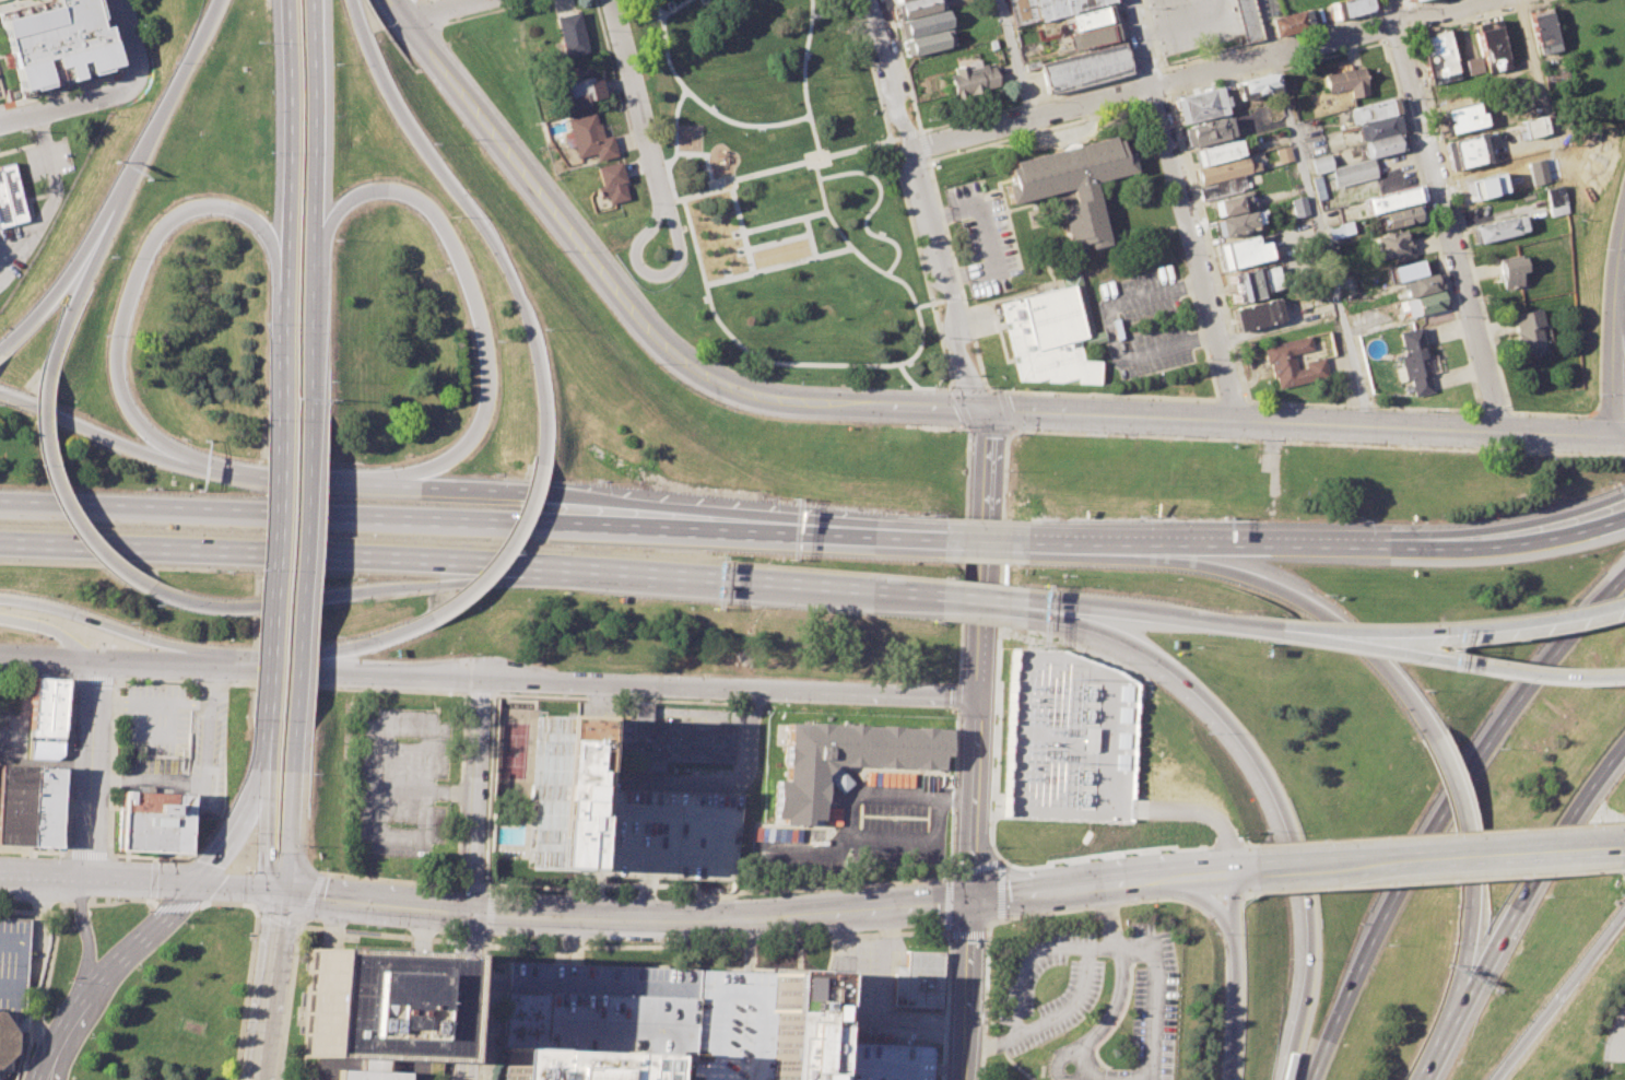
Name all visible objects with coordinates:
building: (893, 0)
building: (1409, 0)
road: (9, 2)
road: (1404, 3)
building: (1062, 7)
building: (1351, 7)
building: (914, 8)
road: (1376, 8)
road: (438, 10)
building: (1022, 12)
road: (1473, 16)
building: (1088, 17)
road: (1408, 19)
building: (1247, 20)
building: (1286, 22)
building: (922, 23)
parking lot: (1191, 23)
road: (1187, 24)
road: (1264, 26)
road: (1381, 26)
building: (1542, 30)
building: (568, 34)
building: (1091, 36)
road: (1152, 36)
road: (1397, 37)
road: (130, 38)
road: (1123, 39)
building: (55, 42)
street lamp: (256, 42)
building: (926, 42)
building: (1491, 44)
building: (1437, 57)
road: (1013, 59)
street lamp: (333, 62)
building: (1474, 64)
road: (868, 66)
road: (1173, 66)
road: (1535, 66)
building: (1082, 67)
road: (900, 68)
road: (1274, 69)
road: (612, 73)
road: (1193, 74)
road: (129, 75)
building: (970, 77)
road: (97, 80)
building: (1556, 80)
building: (1346, 81)
road: (1164, 82)
building: (1255, 86)
building: (575, 89)
road: (1137, 90)
parking lot: (0, 93)
road: (633, 94)
road: (1152, 99)
road: (166, 101)
building: (1199, 105)
road: (70, 106)
road: (706, 109)
building: (1370, 111)
building: (1534, 125)
road: (808, 126)
building: (1377, 128)
building: (1206, 131)
road: (917, 132)
road: (906, 133)
building: (588, 137)
building: (1385, 144)
road: (920, 145)
road: (853, 148)
road: (287, 149)
building: (1469, 150)
building: (1215, 152)
road: (675, 153)
building: (1283, 153)
road: (646, 154)
road: (925, 157)
parking lot: (48, 160)
road: (661, 163)
building: (1320, 163)
road: (927, 165)
building: (1222, 169)
building: (1354, 172)
road: (737, 175)
road: (727, 181)
building: (610, 183)
building: (1070, 184)
building: (1484, 186)
building: (1319, 187)
building: (1222, 188)
park: (786, 189)
road: (543, 193)
building: (9, 197)
road: (52, 198)
building: (1391, 199)
building: (1558, 201)
building: (1230, 203)
road: (925, 206)
road: (869, 207)
building: (1298, 207)
road: (1624, 207)
road: (1624, 208)
road: (1184, 210)
building: (1404, 216)
road: (1446, 216)
road: (780, 220)
road: (1461, 220)
road: (476, 222)
road: (314, 223)
road: (1432, 223)
building: (1232, 224)
building: (1498, 230)
building: (1336, 231)
road: (805, 235)
road: (987, 236)
parking lot: (981, 237)
street lamp: (331, 239)
road: (774, 240)
road: (1321, 240)
road: (846, 244)
building: (1394, 245)
road: (1206, 246)
park: (776, 248)
parking lot: (13, 249)
building: (1240, 251)
park: (777, 256)
road: (918, 257)
road: (1614, 268)
road: (747, 269)
building: (1408, 270)
building: (1512, 271)
road: (653, 274)
road: (137, 275)
road: (726, 278)
road: (62, 280)
road: (1601, 280)
building: (1252, 282)
road: (81, 286)
building: (1421, 286)
road: (951, 297)
building: (1428, 302)
building: (1256, 314)
building: (1357, 318)
street lamp: (263, 322)
road: (481, 322)
parking lot: (1143, 324)
road: (918, 326)
building: (1530, 329)
road: (1111, 331)
road: (1199, 336)
building: (1047, 337)
road: (1617, 341)
road: (738, 343)
building: (1415, 360)
building: (1291, 362)
road: (276, 373)
street lamp: (325, 374)
road: (904, 376)
road: (1609, 384)
road: (933, 387)
road: (997, 390)
road: (1311, 402)
road: (843, 403)
road: (1593, 409)
traffic signals: (982, 410)
road: (1243, 421)
road: (103, 436)
road: (1555, 436)
road: (1615, 438)
road: (1319, 443)
road: (986, 462)
road: (268, 478)
road: (61, 496)
road: (600, 501)
road: (368, 518)
road: (964, 523)
road: (1516, 525)
road: (803, 535)
road: (906, 538)
road: (985, 540)
road: (1215, 542)
road: (1516, 543)
road: (836, 549)
road: (125, 551)
road: (504, 553)
road: (981, 553)
road: (396, 562)
street lamp: (251, 570)
road: (982, 572)
road: (1261, 582)
road: (739, 584)
road: (298, 589)
road: (268, 590)
road: (343, 594)
road: (980, 602)
road: (1000, 602)
road: (1044, 609)
road: (1161, 614)
road: (1471, 625)
road: (1286, 627)
road: (47, 629)
road: (125, 631)
road: (1286, 633)
road: (343, 648)
road: (70, 659)
road: (195, 665)
road: (1469, 666)
street lamp: (63, 676)
road: (365, 678)
road: (94, 679)
road: (216, 682)
street lamp: (115, 686)
road: (730, 686)
road: (480, 695)
road: (958, 695)
road: (623, 697)
road: (172, 704)
building: (47, 706)
road: (658, 714)
parking lot: (154, 718)
road: (70, 729)
power substation: (1068, 739)
building: (1087, 739)
building: (655, 741)
road: (263, 748)
building: (45, 749)
street lamp: (71, 749)
park: (516, 749)
road: (386, 750)
parking lot: (207, 755)
building: (844, 759)
road: (976, 764)
road: (91, 771)
parking lot: (151, 772)
street lamp: (309, 774)
parking lot: (401, 779)
road: (709, 783)
road: (491, 790)
building: (554, 791)
road: (113, 794)
road: (1281, 796)
road: (849, 799)
road: (1459, 803)
building: (15, 805)
building: (44, 806)
road: (1164, 810)
road: (290, 813)
road: (1444, 813)
road: (991, 819)
building: (153, 821)
road: (238, 829)
parking lot: (858, 829)
street lamp: (251, 832)
road: (263, 832)
road: (1441, 832)
road: (1226, 835)
road: (1228, 843)
street lamp: (107, 844)
road: (916, 844)
road: (1249, 844)
street lamp: (306, 846)
road: (55, 853)
road: (620, 854)
road: (1107, 856)
street lamp: (51, 857)
road: (1443, 859)
road: (316, 866)
road: (997, 866)
road: (1538, 866)
road: (1618, 869)
street lamp: (246, 871)
road: (1247, 872)
road: (1197, 878)
road: (1436, 878)
road: (476, 881)
road: (98, 882)
road: (1132, 883)
road: (591, 887)
road: (800, 887)
traffic signals: (198, 888)
road: (644, 888)
road: (242, 890)
traffic signals: (286, 893)
road: (1036, 894)
road: (1253, 894)
road: (1162, 897)
road: (310, 899)
street lamp: (110, 900)
road: (121, 900)
road: (1203, 900)
traffic signals: (968, 901)
road: (1225, 902)
road: (80, 904)
road: (1235, 904)
road: (173, 906)
road: (380, 906)
road: (31, 911)
road: (31, 911)
road: (490, 913)
road: (1048, 913)
road: (806, 915)
road: (738, 916)
road: (278, 917)
road: (531, 917)
road: (1108, 917)
road: (37, 918)
road: (615, 921)
street lamp: (186, 923)
street lamp: (307, 923)
road: (374, 930)
road: (989, 931)
road: (1467, 932)
road: (32, 935)
road: (790, 938)
road: (89, 941)
road: (139, 943)
road: (1117, 947)
road: (1099, 948)
building: (12, 963)
road: (17, 963)
road: (250, 963)
street lamp: (0, 964)
parking lot: (14, 964)
road: (1023, 965)
street lamp: (137, 969)
building: (918, 978)
street lamp: (69, 982)
road: (272, 986)
road: (46, 987)
road: (964, 989)
road: (739, 990)
road: (1558, 991)
road: (1156, 996)
parking lot: (887, 997)
road: (14, 999)
road: (882, 1005)
park: (177, 1006)
road: (986, 1007)
road: (1112, 1007)
road: (1237, 1008)
building: (377, 1009)
road: (482, 1010)
building: (604, 1011)
parking lot: (604, 1011)
road: (13, 1017)
road: (1047, 1019)
building: (797, 1023)
parking lot: (725, 1024)
road: (34, 1025)
parking lot: (1615, 1036)
street lamp: (91, 1037)
road: (1439, 1037)
road: (60, 1040)
road: (72, 1042)
building: (5, 1048)
road: (1069, 1054)
road: (26, 1056)
building: (875, 1060)
parking garage: (875, 1060)
building: (576, 1065)
road: (1102, 1078)

